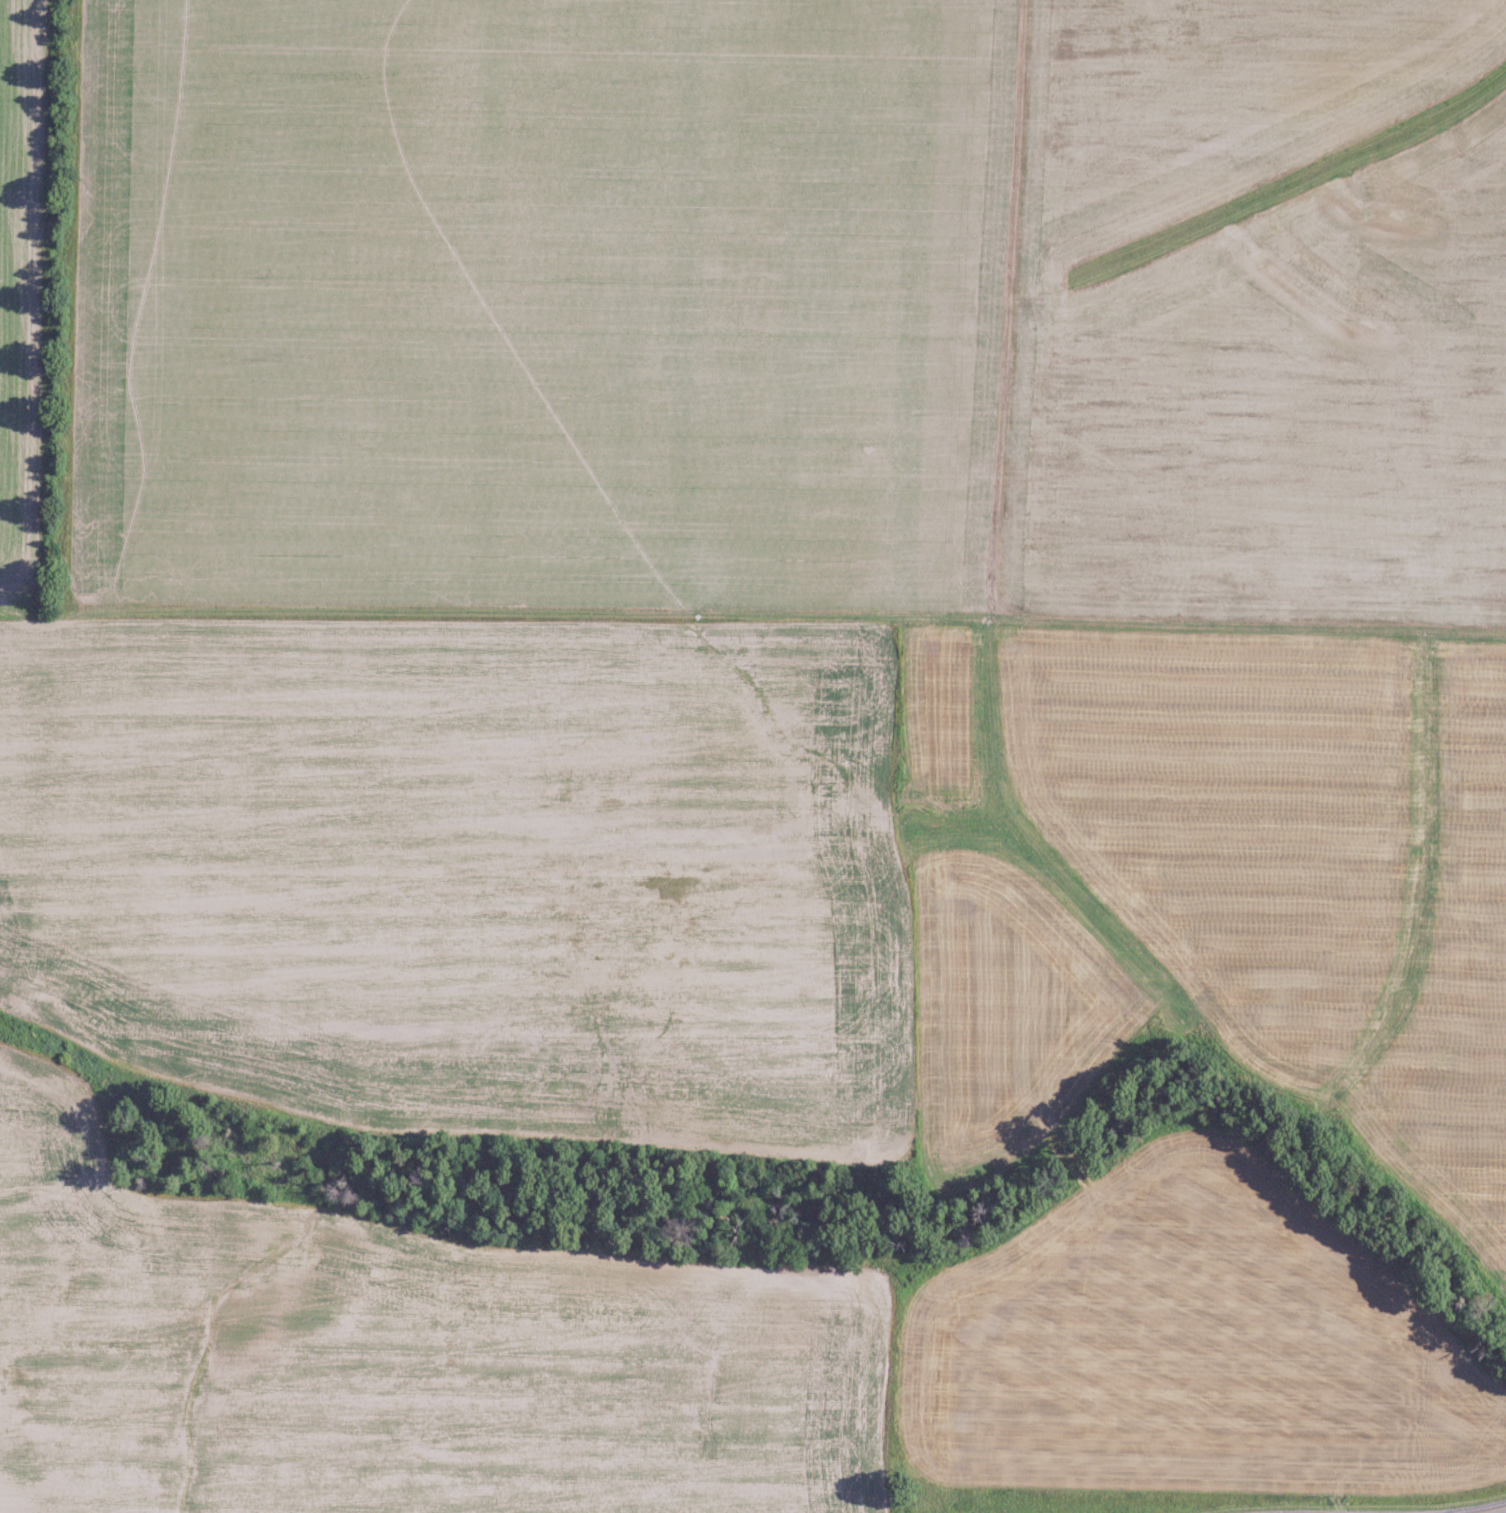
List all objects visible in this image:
road: (1496, 1510)

